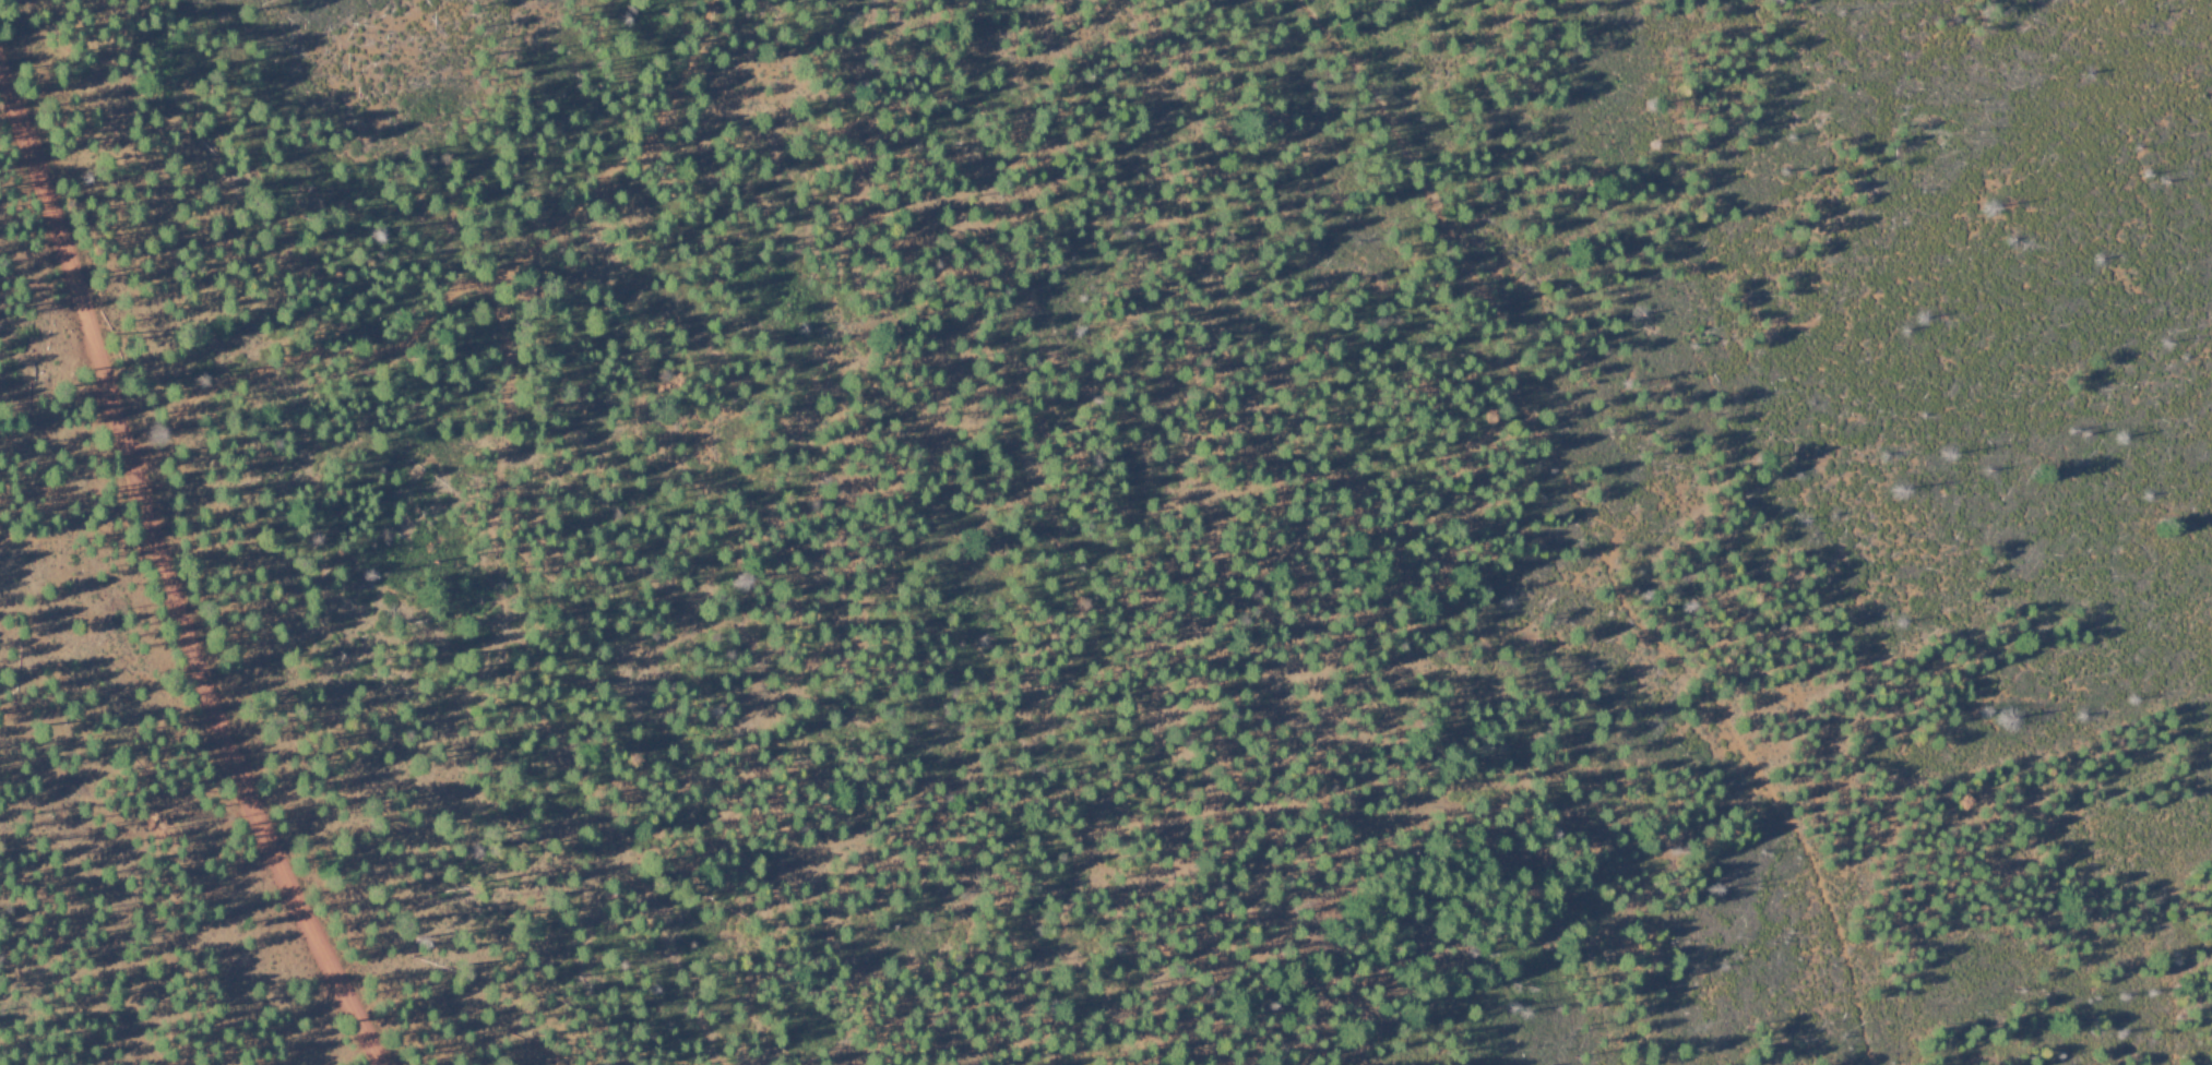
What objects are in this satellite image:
road: (154, 573)

